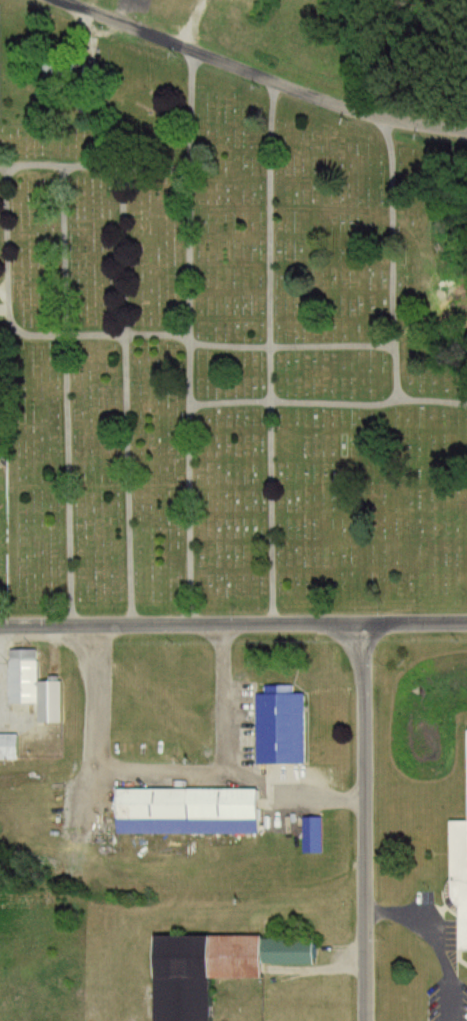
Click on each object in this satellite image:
road: (259, 76)
road: (95, 165)
road: (391, 258)
road: (3, 290)
road: (120, 335)
road: (188, 337)
road: (269, 352)
park: (223, 369)
road: (66, 395)
road: (124, 395)
road: (328, 403)
road: (233, 625)
building: (29, 687)
building: (277, 727)
building: (6, 748)
road: (174, 773)
road: (297, 792)
building: (181, 806)
road: (365, 821)
building: (310, 836)
building: (460, 872)
road: (438, 940)
building: (210, 969)

